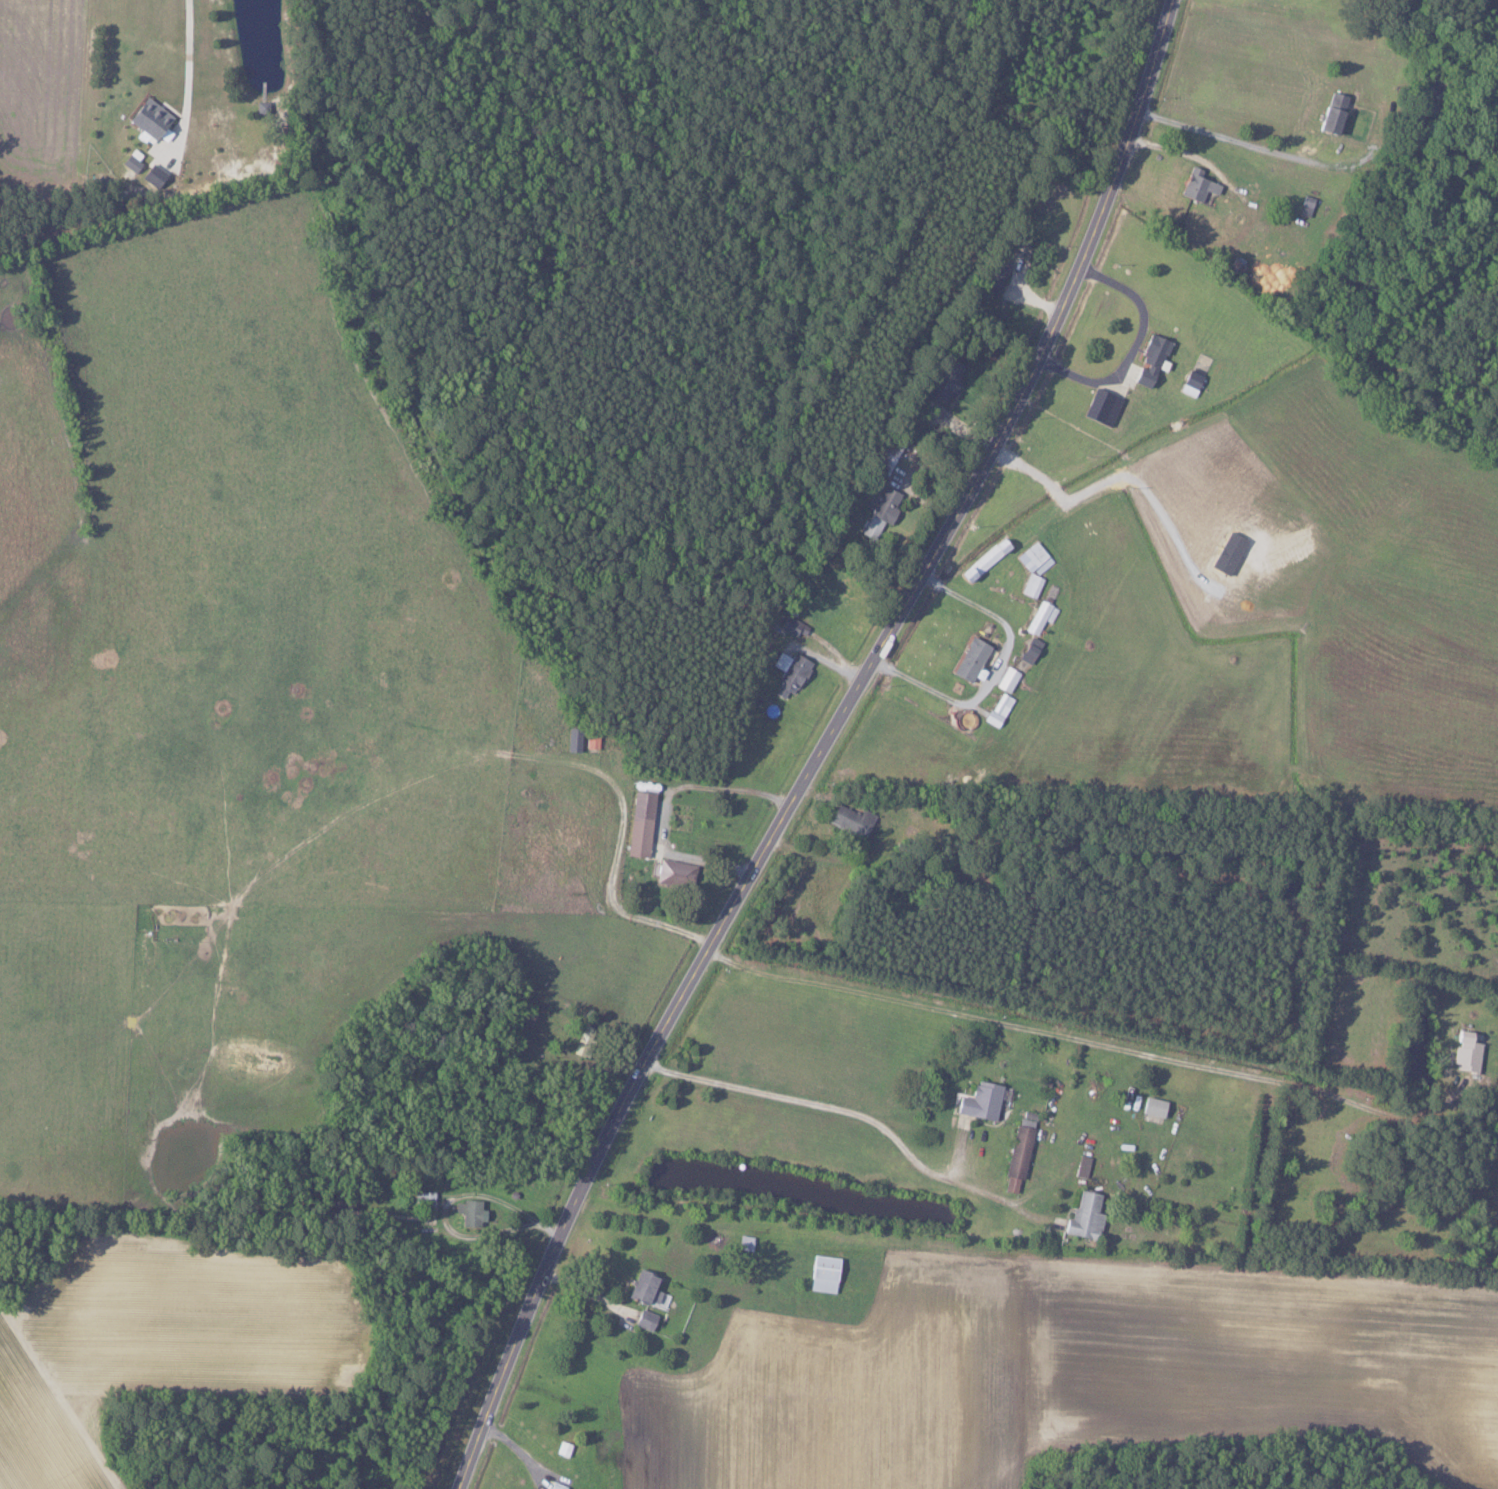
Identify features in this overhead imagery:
road: (183, 53)
building: (1330, 112)
building: (148, 120)
road: (1230, 138)
building: (129, 162)
building: (1196, 185)
road: (1133, 345)
building: (1148, 359)
building: (1191, 379)
building: (948, 381)
building: (881, 512)
building: (981, 560)
building: (1032, 566)
building: (1040, 617)
building: (792, 626)
building: (1026, 653)
building: (969, 659)
building: (790, 670)
road: (993, 671)
building: (1006, 679)
building: (996, 711)
building: (572, 741)
road: (821, 744)
road: (665, 803)
building: (851, 820)
building: (639, 824)
building: (673, 874)
road: (1087, 1041)
building: (1464, 1053)
building: (978, 1101)
building: (1152, 1107)
road: (845, 1110)
building: (1018, 1152)
building: (467, 1213)
building: (1083, 1215)
building: (821, 1273)
building: (646, 1290)
building: (644, 1319)

